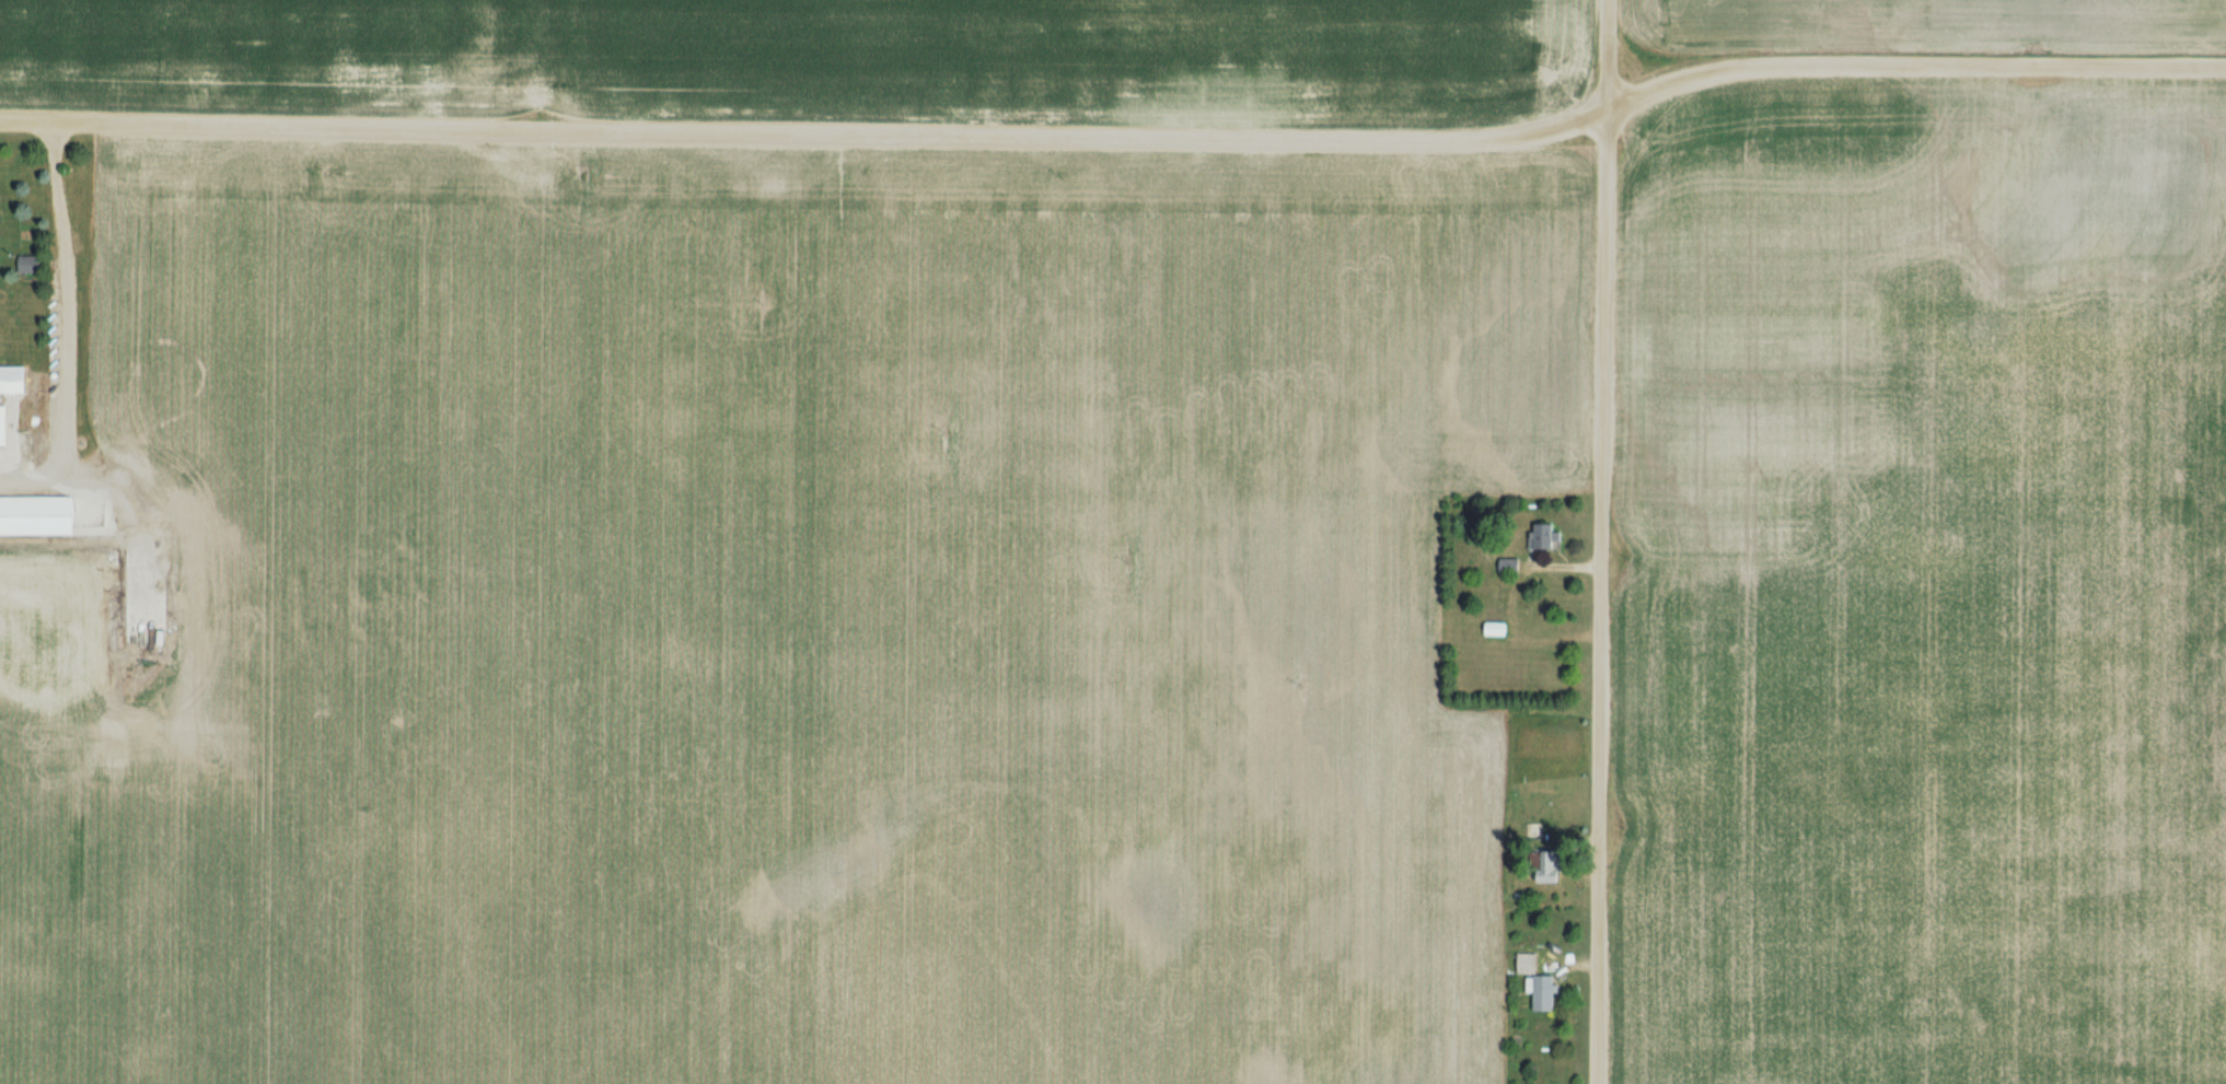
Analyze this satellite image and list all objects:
road: (1911, 67)
road: (805, 132)
road: (58, 322)
building: (4, 428)
building: (38, 515)
building: (1543, 538)
road: (1601, 541)
building: (1510, 567)
building: (1498, 629)
building: (1553, 867)
building: (1528, 964)

